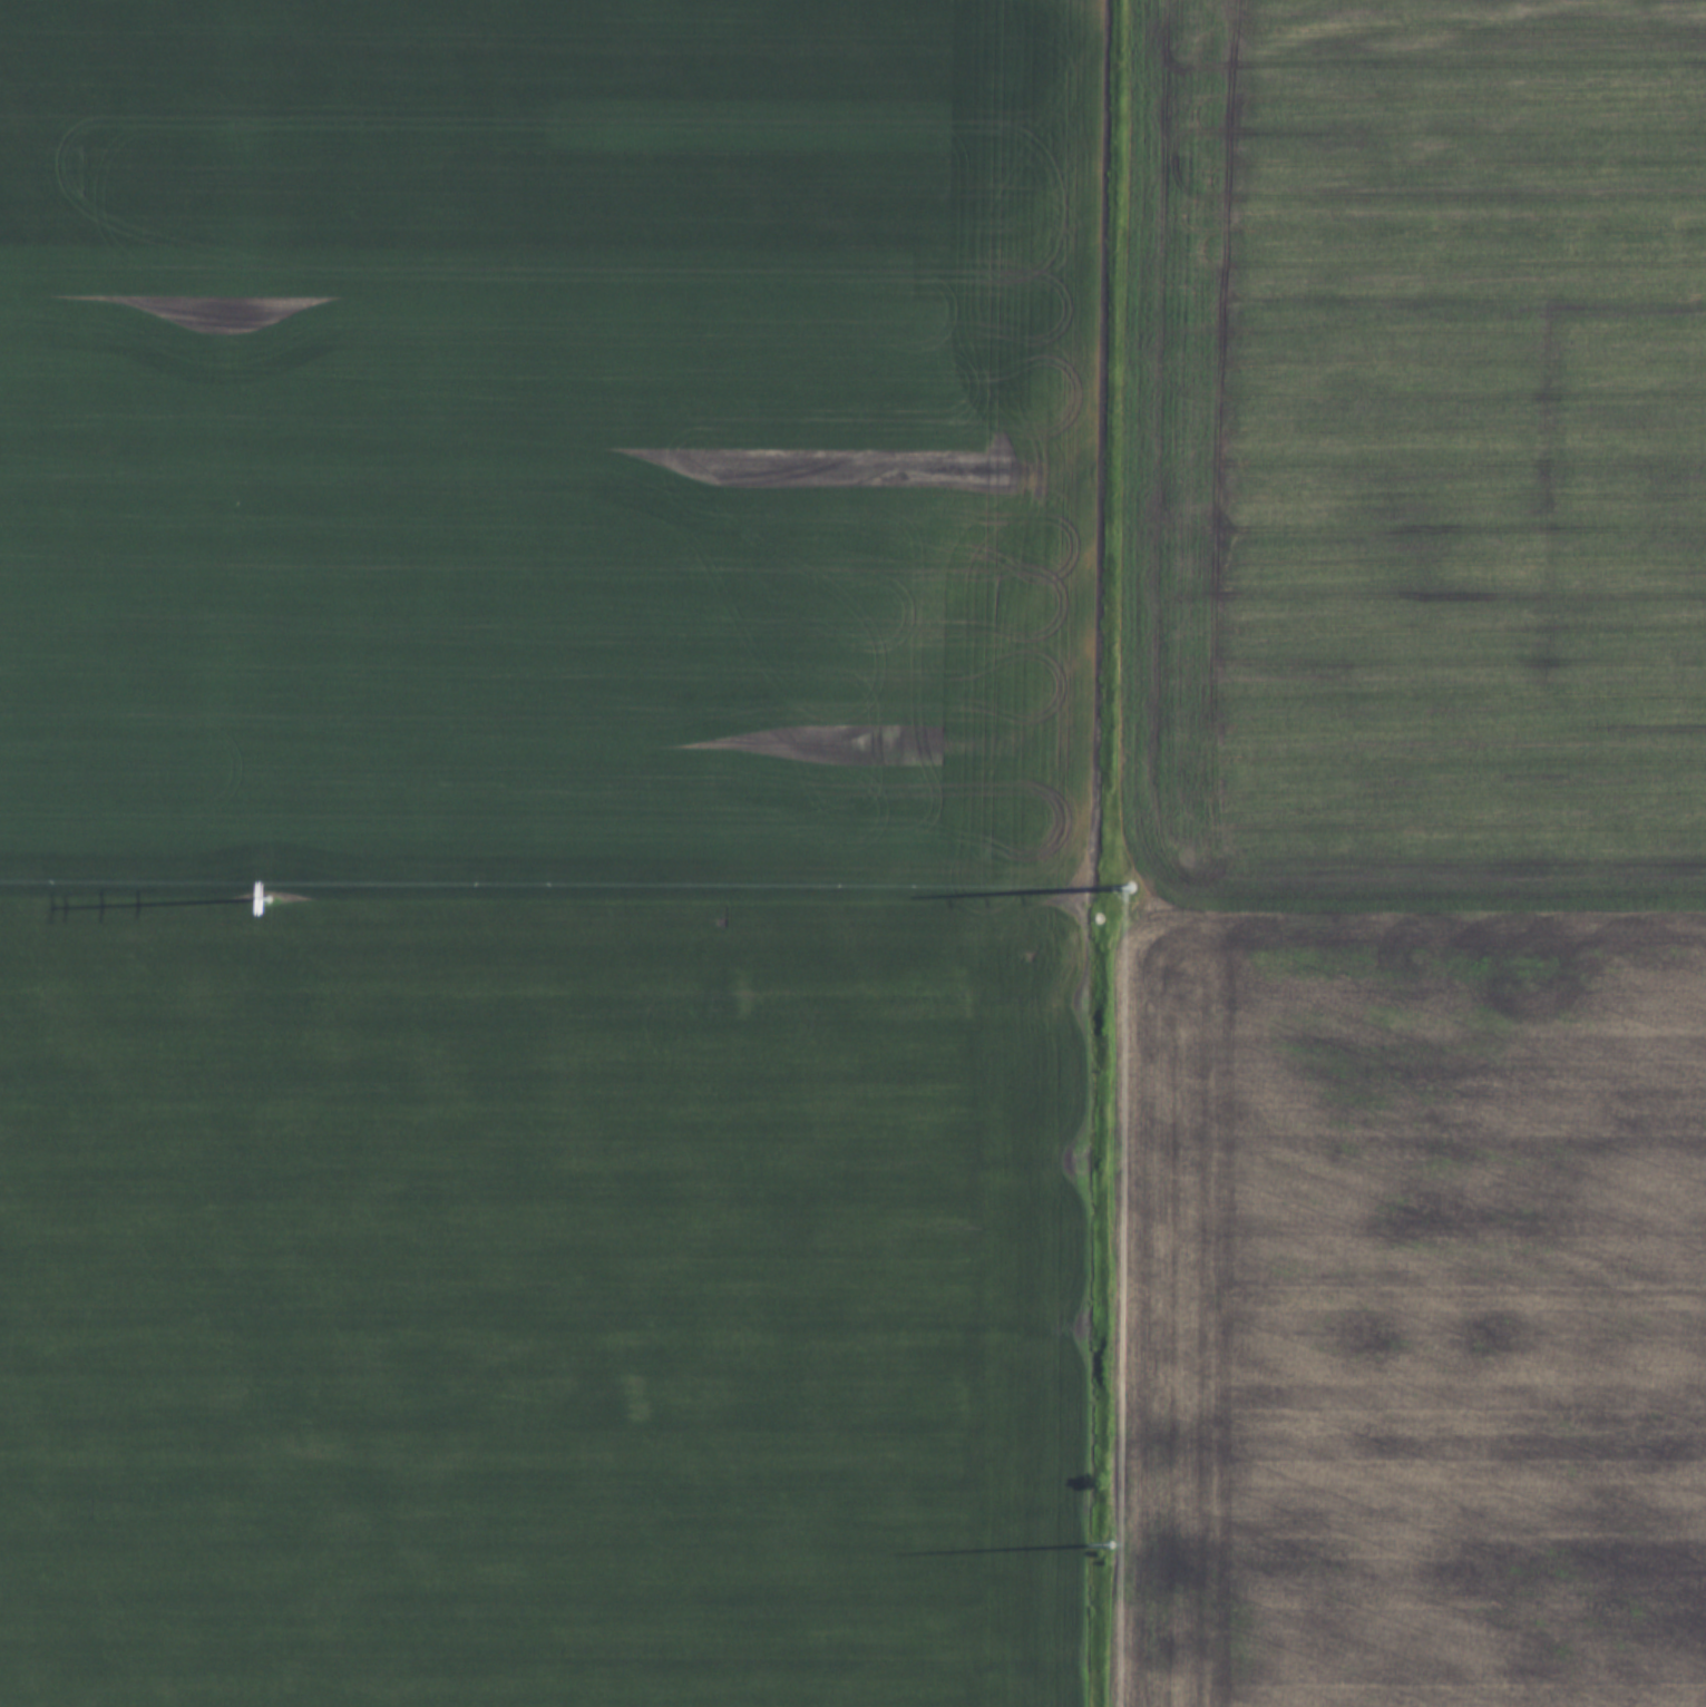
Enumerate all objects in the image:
power tower: (1131, 888)
power tower: (269, 903)
power tower: (1112, 1547)

